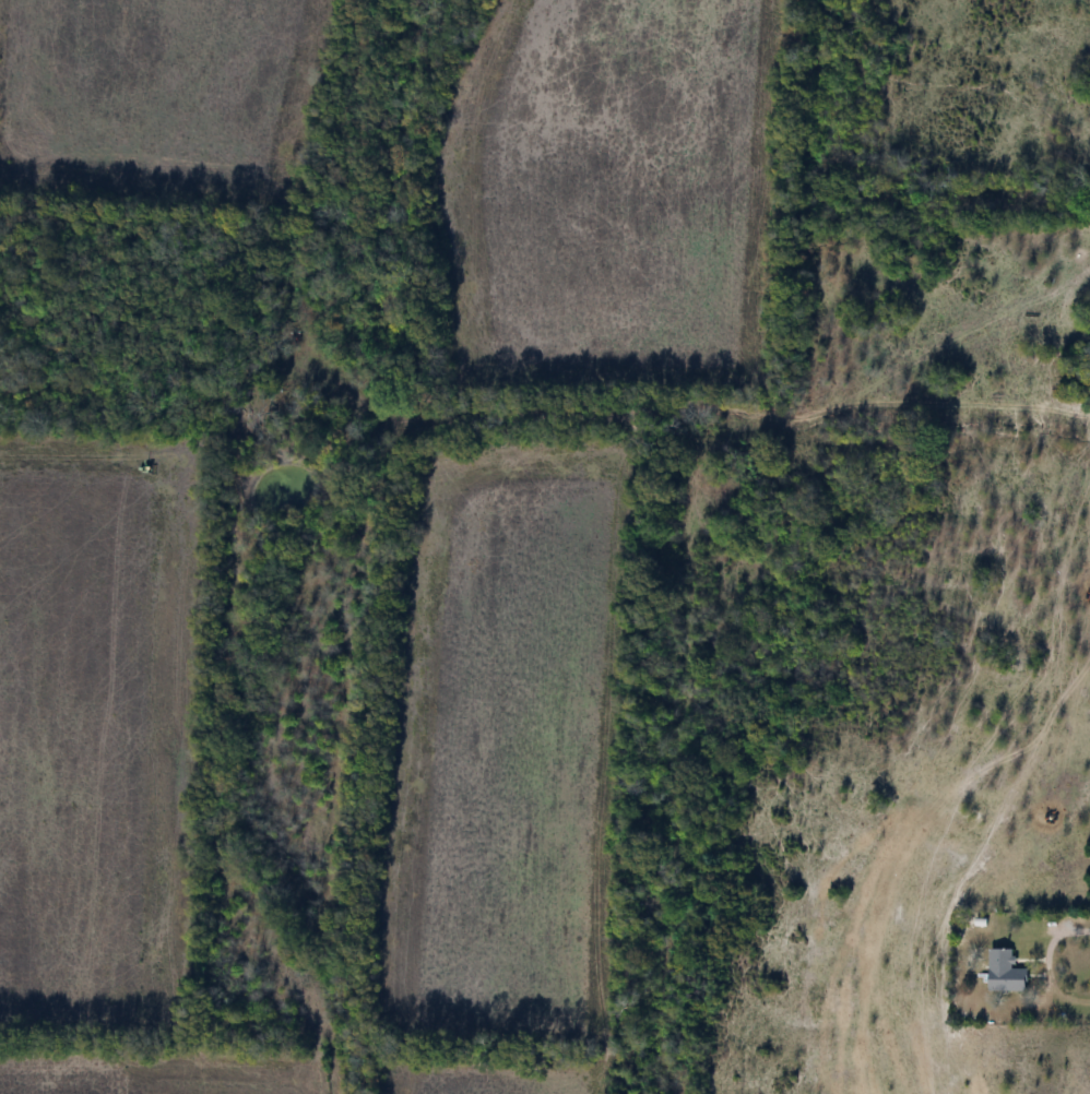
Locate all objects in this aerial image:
road: (1050, 962)
building: (1003, 972)

